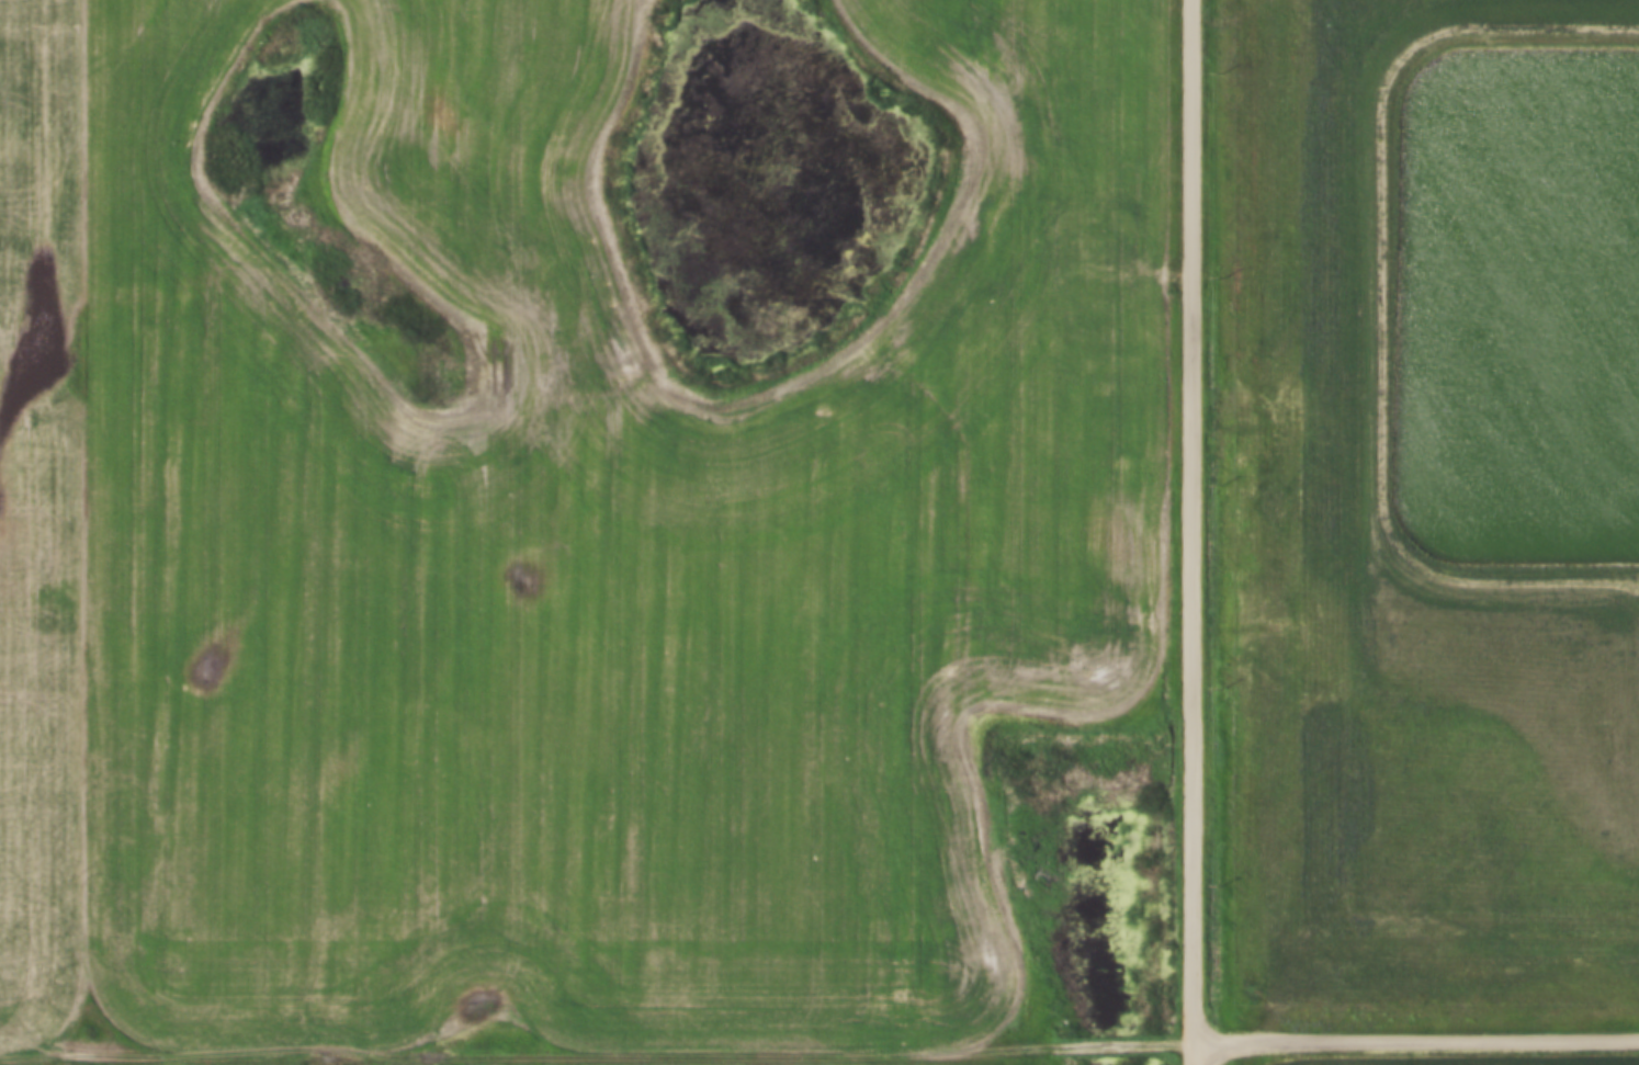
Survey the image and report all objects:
road: (1377, 297)
road: (1194, 532)
road: (1417, 1042)
road: (598, 1054)

